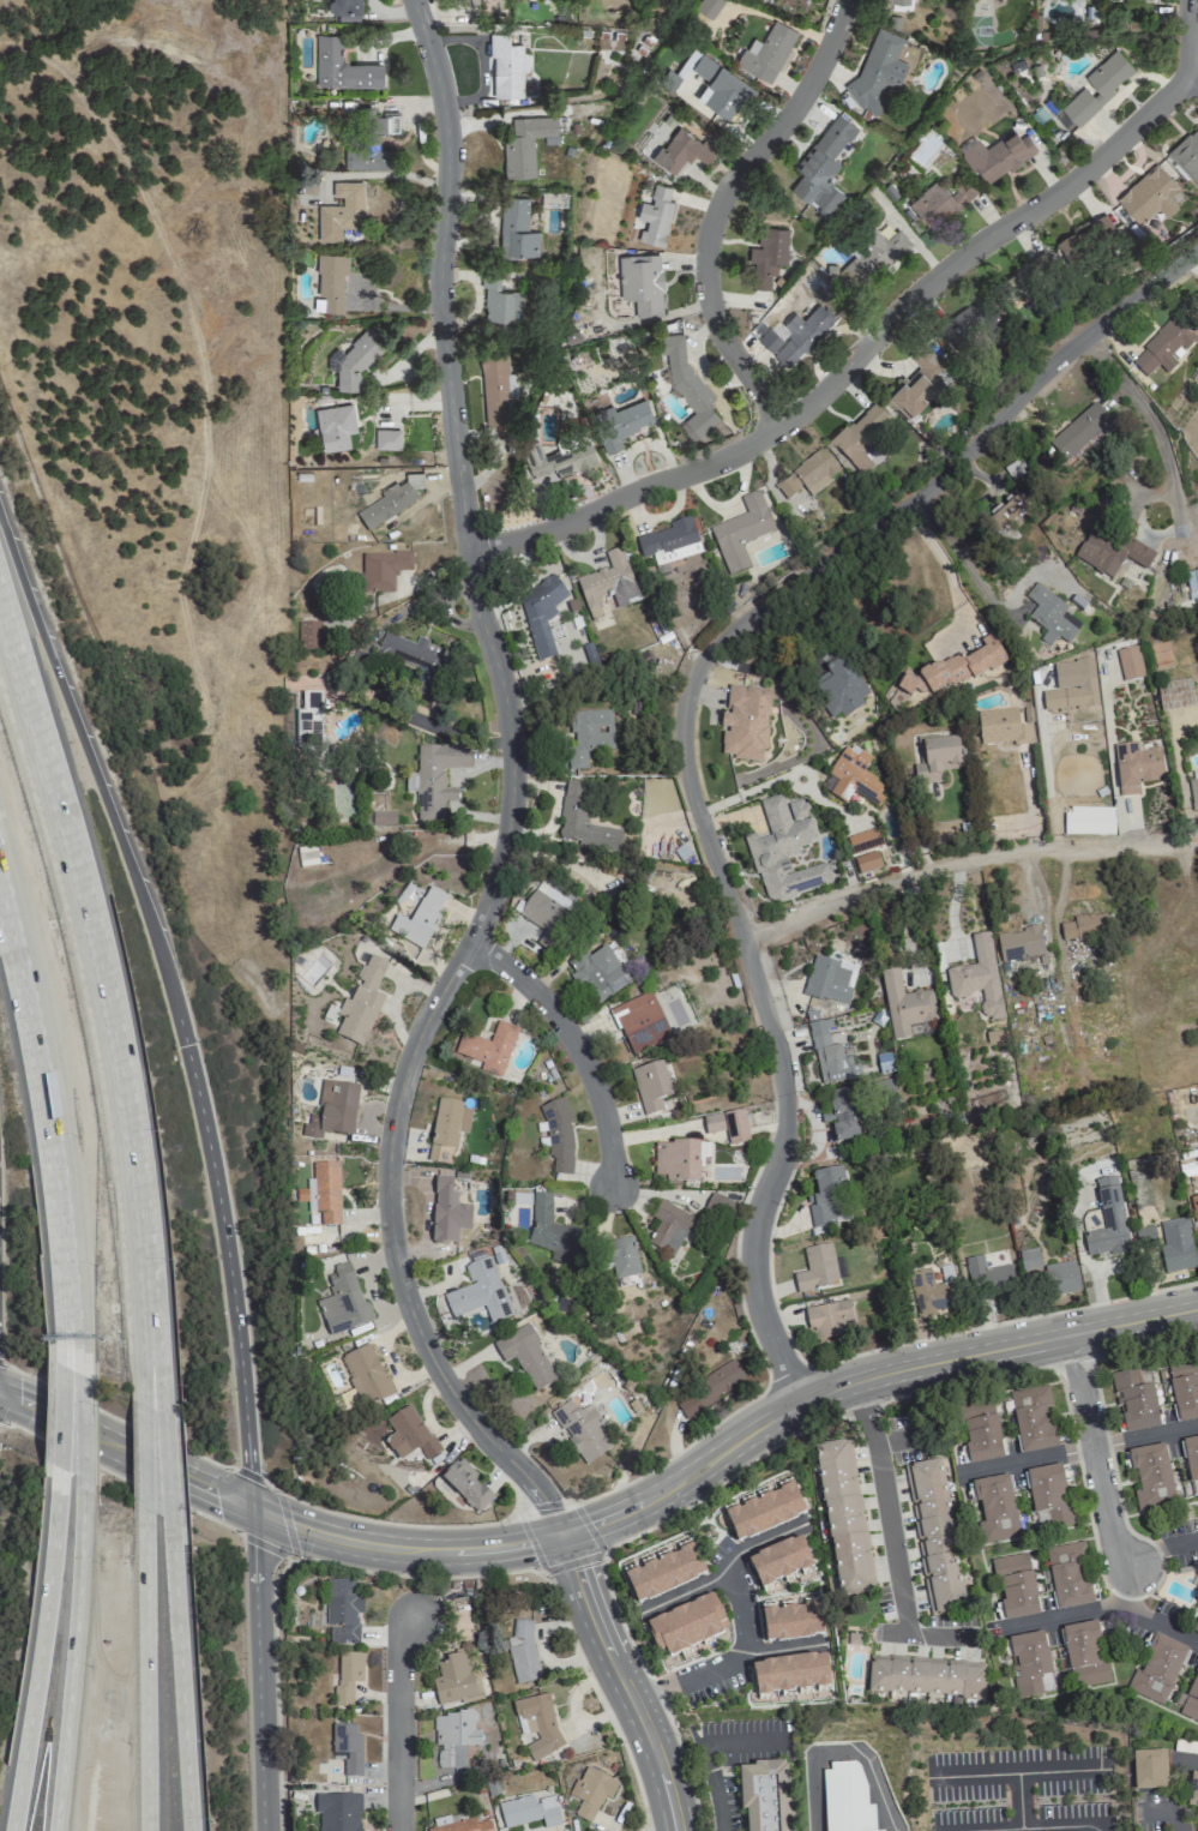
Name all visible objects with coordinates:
building: (469, 1)
building: (709, 8)
building: (347, 10)
building: (767, 50)
building: (343, 66)
building: (506, 66)
building: (877, 70)
road: (1192, 80)
building: (717, 84)
building: (1097, 88)
building: (371, 140)
building: (526, 144)
building: (682, 151)
building: (1186, 154)
building: (997, 156)
building: (823, 166)
building: (1149, 196)
building: (939, 202)
road: (721, 204)
building: (342, 210)
building: (656, 216)
building: (517, 229)
building: (1083, 240)
building: (875, 254)
building: (767, 256)
building: (331, 280)
building: (1019, 281)
building: (642, 283)
building: (500, 301)
building: (968, 323)
building: (803, 332)
road: (197, 334)
road: (881, 334)
building: (770, 340)
building: (1163, 347)
building: (354, 358)
building: (919, 382)
building: (687, 385)
building: (496, 388)
road: (1144, 412)
building: (621, 425)
building: (335, 426)
building: (1078, 432)
building: (860, 436)
building: (387, 439)
building: (558, 460)
building: (808, 475)
building: (1006, 516)
road: (1173, 524)
building: (740, 533)
building: (670, 542)
building: (1109, 553)
building: (384, 570)
road: (952, 583)
building: (608, 584)
road: (985, 594)
building: (540, 616)
building: (1049, 617)
building: (696, 620)
building: (308, 636)
building: (416, 661)
building: (1130, 664)
building: (952, 671)
building: (1072, 686)
building: (838, 689)
building: (1175, 695)
road: (420, 720)
building: (745, 724)
road: (679, 725)
building: (1001, 727)
building: (312, 730)
building: (588, 736)
building: (937, 758)
building: (1136, 767)
building: (854, 778)
building: (434, 780)
building: (1193, 788)
road: (511, 799)
building: (381, 817)
building: (1088, 821)
building: (583, 822)
building: (863, 841)
building: (784, 852)
road: (962, 860)
building: (867, 863)
building: (548, 916)
building: (420, 920)
building: (1084, 927)
building: (1021, 944)
road: (96, 954)
building: (600, 975)
building: (977, 978)
building: (827, 980)
road: (174, 1001)
building: (361, 1005)
building: (904, 1005)
building: (639, 1023)
traffic signals: (187, 1043)
road: (574, 1044)
building: (488, 1049)
building: (830, 1056)
building: (650, 1086)
road: (49, 1105)
building: (333, 1111)
building: (842, 1116)
building: (728, 1125)
building: (447, 1129)
building: (558, 1139)
building: (679, 1160)
building: (323, 1193)
building: (826, 1196)
building: (720, 1207)
building: (1194, 1208)
building: (447, 1212)
building: (1107, 1221)
building: (669, 1227)
building: (552, 1232)
building: (1176, 1245)
building: (621, 1257)
building: (817, 1268)
building: (1048, 1272)
building: (987, 1275)
building: (932, 1291)
building: (478, 1292)
building: (343, 1299)
building: (829, 1320)
road: (68, 1349)
road: (76, 1352)
road: (143, 1355)
building: (525, 1356)
road: (155, 1359)
building: (366, 1377)
road: (862, 1379)
building: (709, 1389)
building: (1185, 1389)
building: (1136, 1399)
road: (19, 1400)
road: (116, 1415)
road: (61, 1419)
building: (1033, 1419)
road: (82, 1428)
building: (580, 1430)
building: (409, 1435)
building: (982, 1437)
road: (115, 1445)
road: (1086, 1453)
building: (1191, 1457)
road: (142, 1458)
road: (747, 1461)
road: (167, 1469)
road: (1096, 1472)
road: (247, 1475)
road: (121, 1476)
building: (1151, 1478)
building: (466, 1485)
building: (1194, 1489)
road: (222, 1495)
building: (1049, 1496)
road: (895, 1506)
traffic signals: (253, 1509)
building: (995, 1509)
building: (764, 1512)
road: (516, 1513)
building: (844, 1517)
road: (386, 1523)
traffic signals: (559, 1535)
building: (934, 1537)
road: (288, 1548)
road: (403, 1548)
road: (1156, 1553)
building: (779, 1561)
building: (663, 1574)
road: (410, 1575)
building: (1068, 1575)
building: (1016, 1586)
building: (341, 1611)
road: (1107, 1616)
building: (791, 1622)
building: (686, 1625)
building: (1196, 1629)
road: (926, 1637)
road: (37, 1651)
building: (522, 1653)
building: (1085, 1653)
road: (72, 1656)
road: (724, 1662)
building: (1030, 1664)
road: (258, 1669)
road: (145, 1670)
building: (1157, 1670)
building: (790, 1674)
road: (179, 1676)
building: (348, 1676)
building: (456, 1676)
building: (925, 1677)
road: (619, 1681)
building: (1191, 1701)
road: (397, 1722)
building: (537, 1725)
building: (454, 1737)
building: (348, 1748)
road: (841, 1749)
road: (709, 1757)
road: (1193, 1760)
building: (1149, 1769)
building: (1192, 1790)
building: (591, 1791)
building: (764, 1795)
building: (847, 1799)
building: (529, 1811)
building: (338, 1812)
road: (1170, 1813)
road: (1027, 1825)
building: (463, 1826)
road: (644, 1830)

